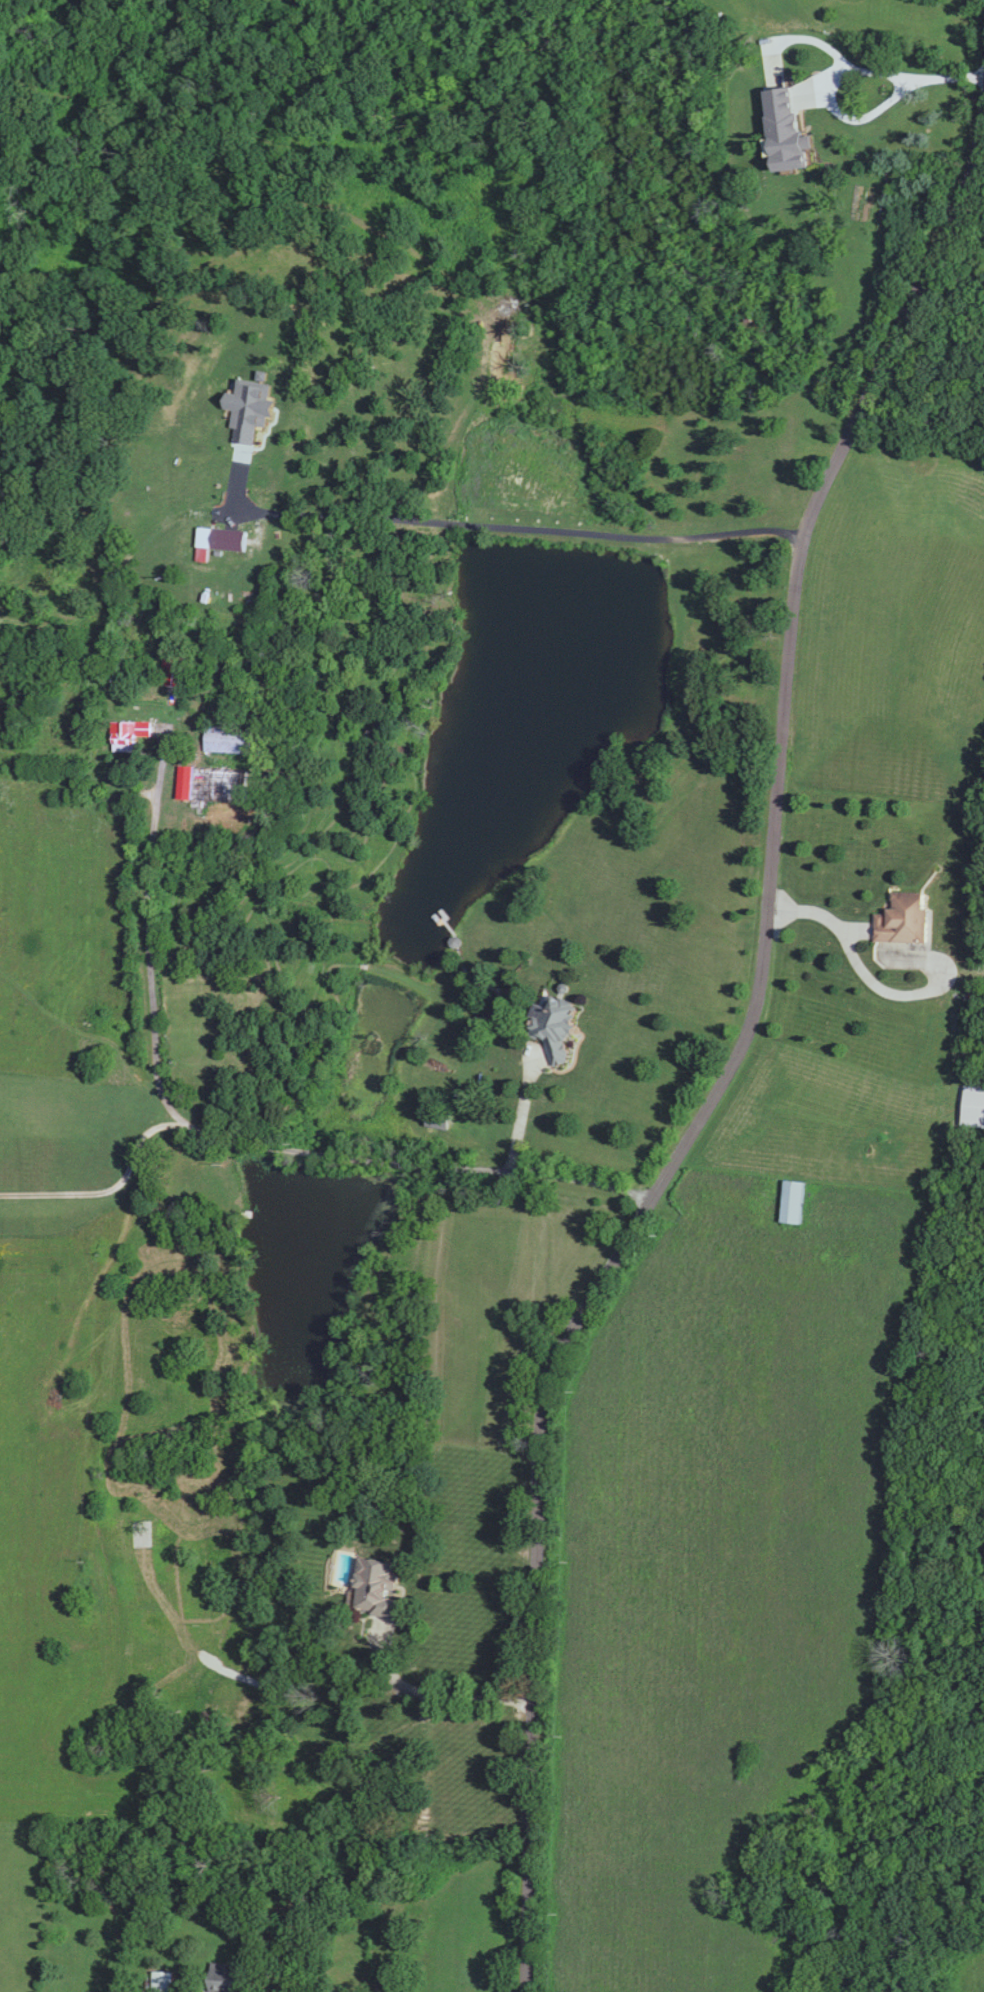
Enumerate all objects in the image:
building: (171, 670)
building: (120, 736)
building: (224, 740)
building: (206, 785)
building: (900, 919)
road: (876, 941)
building: (550, 1025)
road: (726, 1090)
road: (522, 1101)
building: (435, 1119)
road: (233, 1127)
road: (117, 1198)
building: (790, 1202)
building: (139, 1534)
building: (372, 1584)
road: (429, 1691)
building: (160, 1981)
building: (218, 1983)

